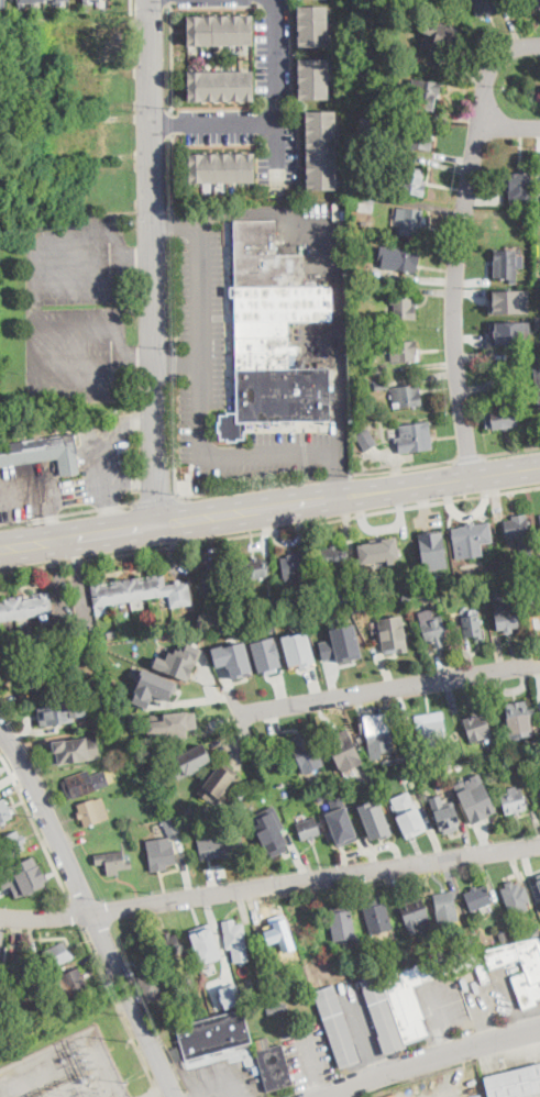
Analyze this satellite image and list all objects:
building: (26, 0)
building: (98, 0)
road: (170, 0)
building: (57, 1)
building: (86, 1)
building: (535, 1)
building: (1, 2)
parking lot: (214, 2)
road: (130, 5)
building: (488, 5)
building: (311, 24)
building: (219, 29)
building: (442, 44)
road: (170, 56)
parking lot: (273, 57)
building: (359, 67)
road: (489, 68)
building: (312, 77)
building: (220, 85)
park: (525, 87)
road: (275, 89)
building: (427, 95)
road: (172, 122)
building: (389, 123)
road: (510, 126)
road: (213, 128)
building: (421, 137)
building: (321, 148)
building: (222, 167)
road: (173, 173)
building: (383, 176)
building: (414, 182)
building: (519, 187)
building: (365, 200)
building: (526, 214)
road: (176, 222)
building: (411, 222)
road: (172, 223)
building: (363, 223)
building: (398, 257)
road: (154, 263)
building: (505, 265)
building: (367, 274)
road: (334, 275)
road: (173, 291)
road: (451, 299)
building: (509, 300)
parking lot: (75, 304)
road: (37, 308)
building: (403, 308)
building: (271, 332)
building: (509, 332)
building: (404, 352)
road: (174, 361)
road: (177, 361)
building: (381, 370)
parking lot: (223, 375)
building: (538, 380)
building: (381, 385)
building: (406, 396)
road: (201, 399)
building: (360, 414)
building: (505, 415)
road: (175, 434)
building: (414, 437)
building: (366, 439)
building: (43, 451)
road: (511, 452)
road: (307, 454)
road: (471, 457)
road: (405, 467)
road: (337, 474)
road: (472, 474)
road: (338, 476)
road: (317, 478)
road: (456, 479)
road: (242, 488)
road: (155, 499)
road: (67, 512)
building: (539, 513)
road: (186, 521)
road: (269, 528)
building: (519, 532)
building: (472, 538)
building: (432, 548)
building: (381, 551)
building: (333, 556)
building: (293, 566)
building: (254, 568)
road: (128, 573)
building: (470, 575)
building: (213, 578)
building: (472, 587)
building: (364, 590)
building: (142, 591)
building: (341, 594)
building: (407, 596)
building: (293, 600)
building: (271, 601)
building: (25, 607)
building: (354, 609)
building: (506, 613)
building: (537, 613)
building: (24, 621)
building: (472, 625)
building: (433, 629)
building: (87, 632)
building: (392, 633)
building: (113, 634)
building: (233, 634)
building: (341, 643)
building: (297, 649)
building: (265, 652)
building: (232, 657)
building: (179, 660)
building: (75, 664)
building: (33, 676)
building: (64, 680)
building: (153, 687)
road: (395, 687)
building: (91, 705)
building: (60, 711)
building: (518, 713)
building: (115, 717)
building: (133, 717)
building: (177, 722)
building: (477, 728)
building: (432, 731)
building: (376, 733)
building: (531, 741)
building: (519, 746)
building: (75, 749)
building: (343, 749)
building: (133, 750)
building: (307, 752)
building: (445, 752)
building: (500, 753)
building: (531, 756)
building: (191, 760)
building: (505, 765)
building: (453, 766)
building: (522, 768)
building: (158, 771)
building: (420, 772)
building: (0, 774)
building: (0, 780)
building: (146, 780)
building: (219, 780)
building: (370, 783)
building: (84, 784)
building: (385, 785)
building: (475, 796)
building: (315, 798)
building: (514, 800)
building: (406, 808)
building: (188, 810)
building: (93, 811)
building: (4, 812)
building: (374, 819)
building: (448, 819)
building: (340, 821)
building: (157, 822)
building: (172, 824)
building: (186, 824)
road: (36, 828)
building: (309, 829)
building: (271, 830)
building: (13, 845)
building: (220, 847)
building: (159, 852)
building: (112, 861)
building: (23, 876)
building: (538, 880)
road: (269, 886)
building: (539, 893)
building: (477, 897)
building: (515, 898)
building: (445, 906)
road: (90, 911)
building: (414, 913)
road: (75, 915)
building: (377, 916)
building: (342, 923)
building: (535, 930)
building: (279, 933)
building: (504, 937)
building: (235, 940)
building: (205, 942)
building: (169, 945)
building: (463, 945)
building: (434, 952)
building: (56, 955)
building: (21, 971)
building: (529, 975)
building: (230, 979)
building: (249, 982)
building: (71, 984)
building: (152, 984)
building: (300, 984)
building: (285, 988)
building: (230, 995)
building: (409, 996)
road: (121, 1010)
building: (177, 1013)
building: (338, 1027)
road: (364, 1033)
building: (214, 1034)
road: (434, 1060)
road: (316, 1064)
building: (274, 1066)
building: (515, 1083)

